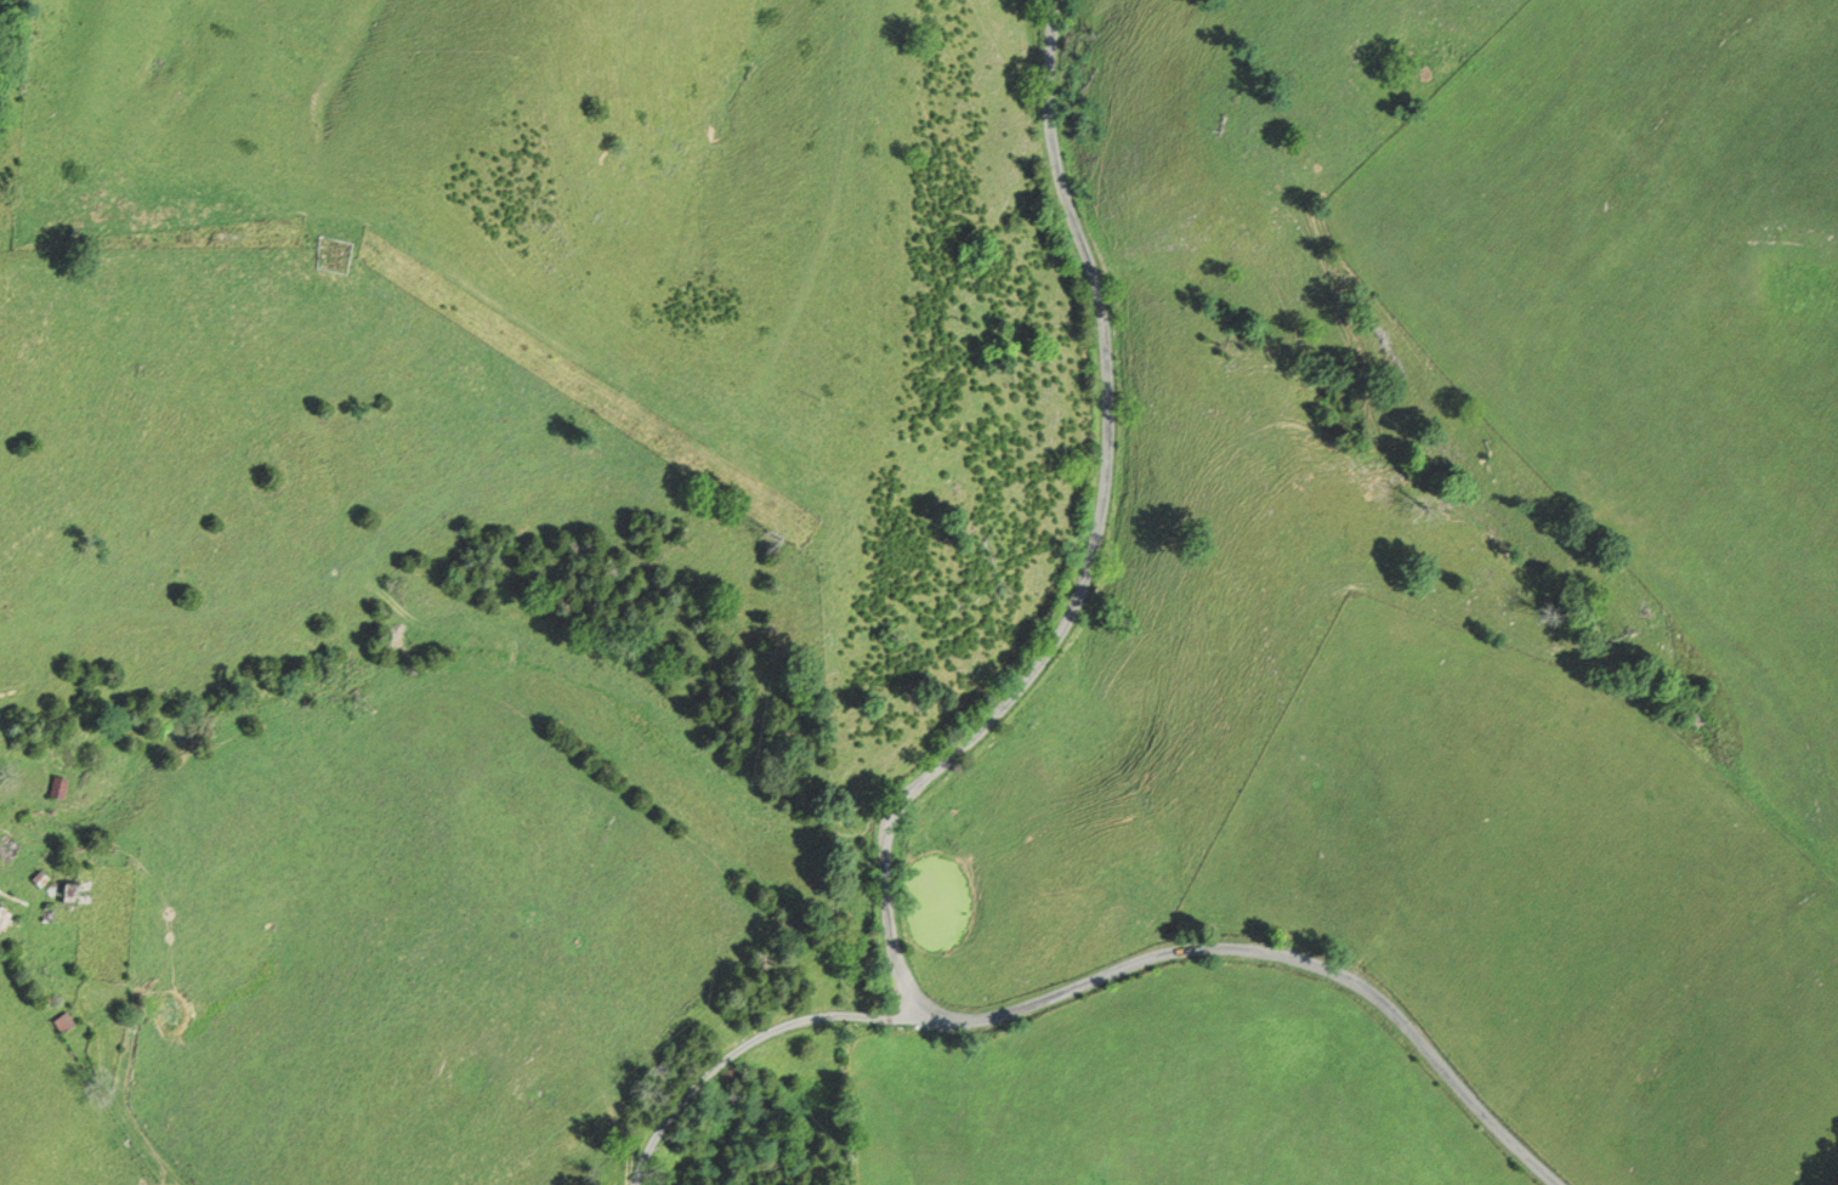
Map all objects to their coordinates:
road: (1099, 542)
building: (62, 787)
building: (7, 850)
building: (44, 878)
building: (76, 892)
building: (4, 915)
road: (1277, 956)
building: (68, 1025)
road: (742, 1045)
road: (104, 1058)

